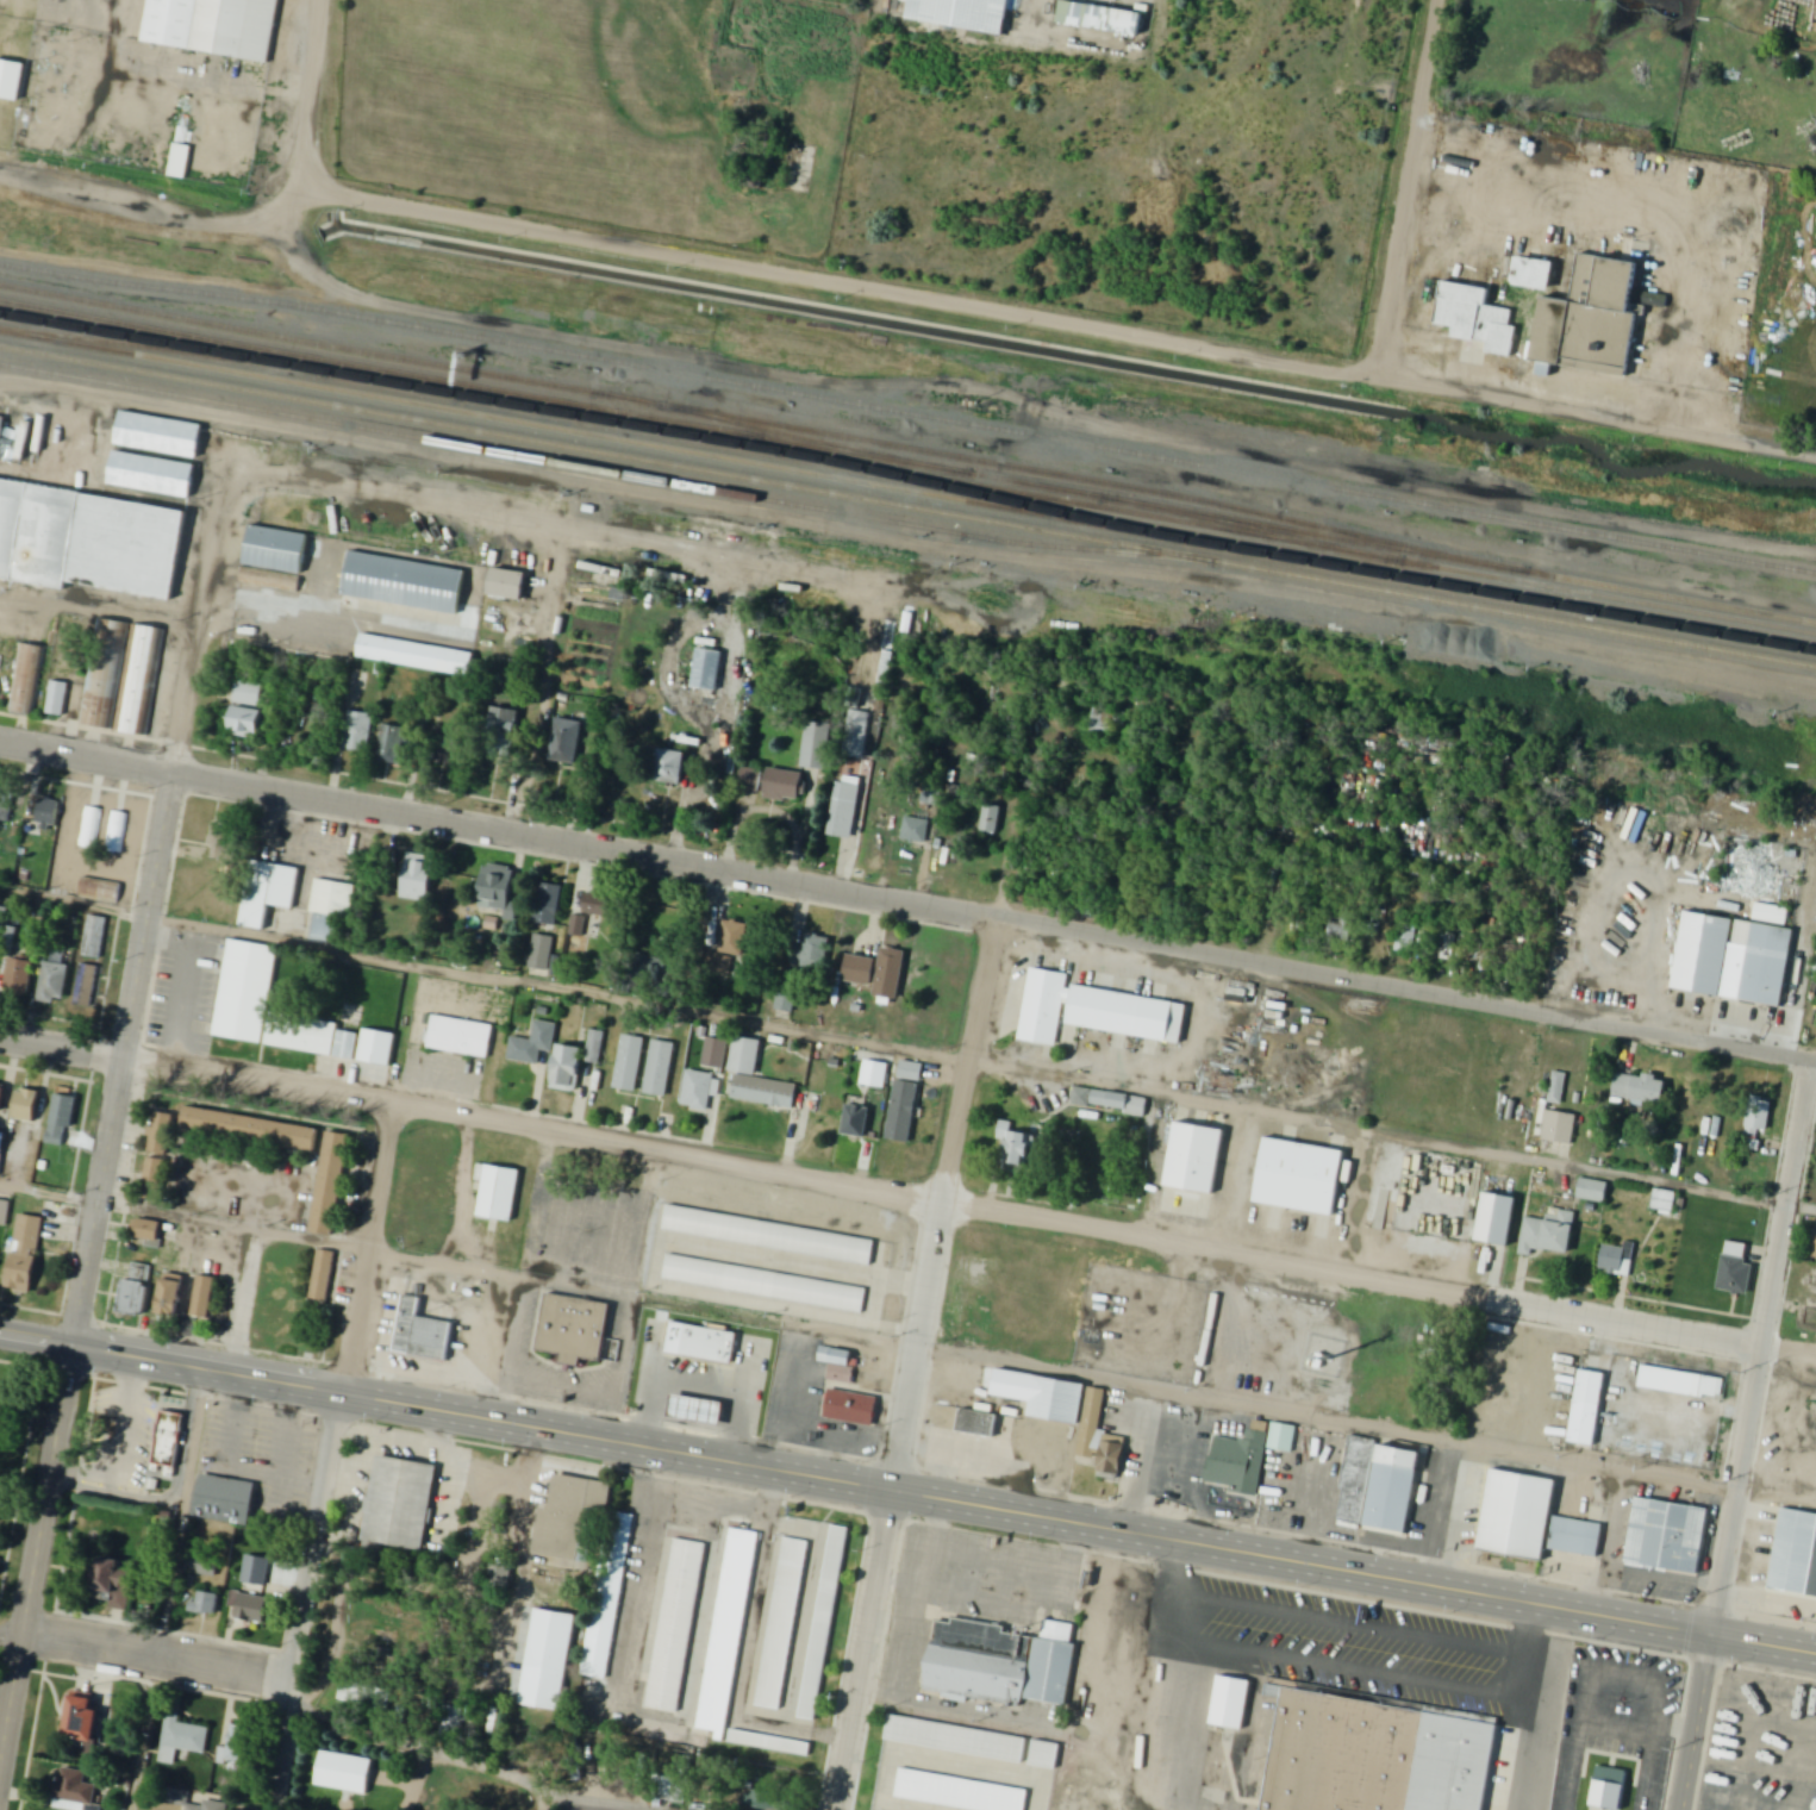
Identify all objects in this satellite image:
building: (963, 13)
building: (1102, 19)
building: (214, 26)
building: (11, 81)
road: (314, 92)
building: (180, 162)
road: (1409, 188)
road: (156, 204)
building: (1535, 273)
building: (1596, 318)
road: (1059, 319)
building: (1478, 319)
railway: (143, 348)
road: (125, 400)
railway: (909, 414)
railway: (718, 417)
railway: (616, 419)
building: (2, 430)
building: (160, 436)
railway: (791, 437)
railway: (907, 464)
railway: (585, 468)
building: (152, 475)
railway: (907, 476)
railway: (907, 492)
railway: (1001, 501)
railway: (907, 507)
railway: (1263, 533)
building: (87, 539)
building: (275, 548)
building: (404, 581)
building: (507, 583)
building: (417, 655)
building: (707, 669)
building: (101, 673)
building: (25, 678)
building: (138, 678)
building: (248, 693)
building: (56, 699)
building: (504, 731)
building: (355, 732)
building: (566, 741)
building: (393, 744)
building: (817, 745)
building: (674, 767)
building: (754, 780)
building: (786, 785)
building: (6, 806)
building: (844, 810)
building: (48, 813)
building: (992, 818)
building: (89, 828)
building: (916, 831)
building: (116, 832)
building: (418, 876)
building: (98, 890)
building: (500, 891)
building: (268, 892)
road: (152, 897)
building: (548, 904)
road: (907, 904)
building: (331, 907)
road: (1273, 910)
building: (2, 916)
building: (491, 924)
building: (576, 926)
building: (1342, 929)
building: (94, 937)
building: (735, 940)
building: (1405, 940)
building: (1447, 948)
building: (541, 951)
building: (815, 953)
building: (1702, 953)
building: (1767, 954)
road: (1658, 963)
building: (648, 968)
building: (880, 973)
building: (18, 976)
building: (55, 984)
building: (86, 986)
building: (245, 992)
building: (1044, 1000)
building: (1123, 1012)
building: (460, 1037)
building: (533, 1044)
building: (347, 1046)
building: (376, 1047)
building: (594, 1049)
road: (907, 1053)
building: (745, 1056)
building: (629, 1062)
building: (660, 1068)
building: (567, 1069)
building: (911, 1072)
building: (1641, 1088)
building: (698, 1090)
building: (1, 1098)
building: (1110, 1101)
building: (27, 1106)
building: (903, 1112)
building: (1558, 1113)
building: (1758, 1119)
building: (62, 1121)
building: (857, 1122)
building: (251, 1130)
building: (161, 1134)
building: (1, 1147)
building: (1017, 1148)
building: (1193, 1157)
building: (155, 1173)
building: (1298, 1175)
building: (330, 1182)
building: (1592, 1190)
building: (500, 1193)
road: (907, 1196)
building: (1662, 1202)
building: (4, 1212)
road: (185, 1215)
building: (1496, 1217)
building: (146, 1230)
building: (1548, 1234)
building: (769, 1235)
building: (25, 1254)
building: (1815, 1256)
building: (1617, 1260)
road: (932, 1273)
building: (322, 1277)
road: (585, 1277)
building: (1736, 1277)
building: (765, 1282)
building: (136, 1287)
building: (173, 1296)
building: (204, 1297)
building: (576, 1330)
building: (422, 1334)
building: (709, 1344)
building: (838, 1363)
road: (170, 1367)
building: (1684, 1384)
building: (1057, 1399)
building: (849, 1406)
building: (1586, 1408)
building: (699, 1411)
building: (979, 1423)
road: (1327, 1423)
road: (1743, 1435)
building: (1283, 1438)
building: (168, 1443)
road: (1471, 1446)
road: (330, 1454)
park: (18, 1458)
road: (1141, 1463)
building: (1238, 1463)
building: (1355, 1478)
road: (1310, 1493)
building: (225, 1500)
building: (400, 1504)
building: (1517, 1513)
building: (572, 1518)
road: (1079, 1524)
building: (1667, 1535)
building: (1575, 1536)
building: (1793, 1553)
road: (35, 1560)
building: (207, 1567)
building: (499, 1578)
building: (114, 1583)
road: (170, 1591)
building: (609, 1602)
building: (205, 1604)
building: (254, 1609)
building: (782, 1622)
building: (824, 1622)
building: (674, 1624)
building: (726, 1630)
building: (550, 1641)
road: (11, 1644)
road: (156, 1652)
road: (1343, 1666)
building: (1051, 1668)
building: (1230, 1703)
road: (653, 1714)
building: (83, 1721)
road: (1181, 1723)
building: (954, 1737)
building: (181, 1740)
building: (769, 1742)
building: (238, 1743)
building: (1044, 1754)
building: (1377, 1758)
road: (501, 1764)
building: (342, 1773)
building: (1609, 1786)
building: (74, 1791)
building: (956, 1792)
building: (761, 1800)
building: (191, 1802)

